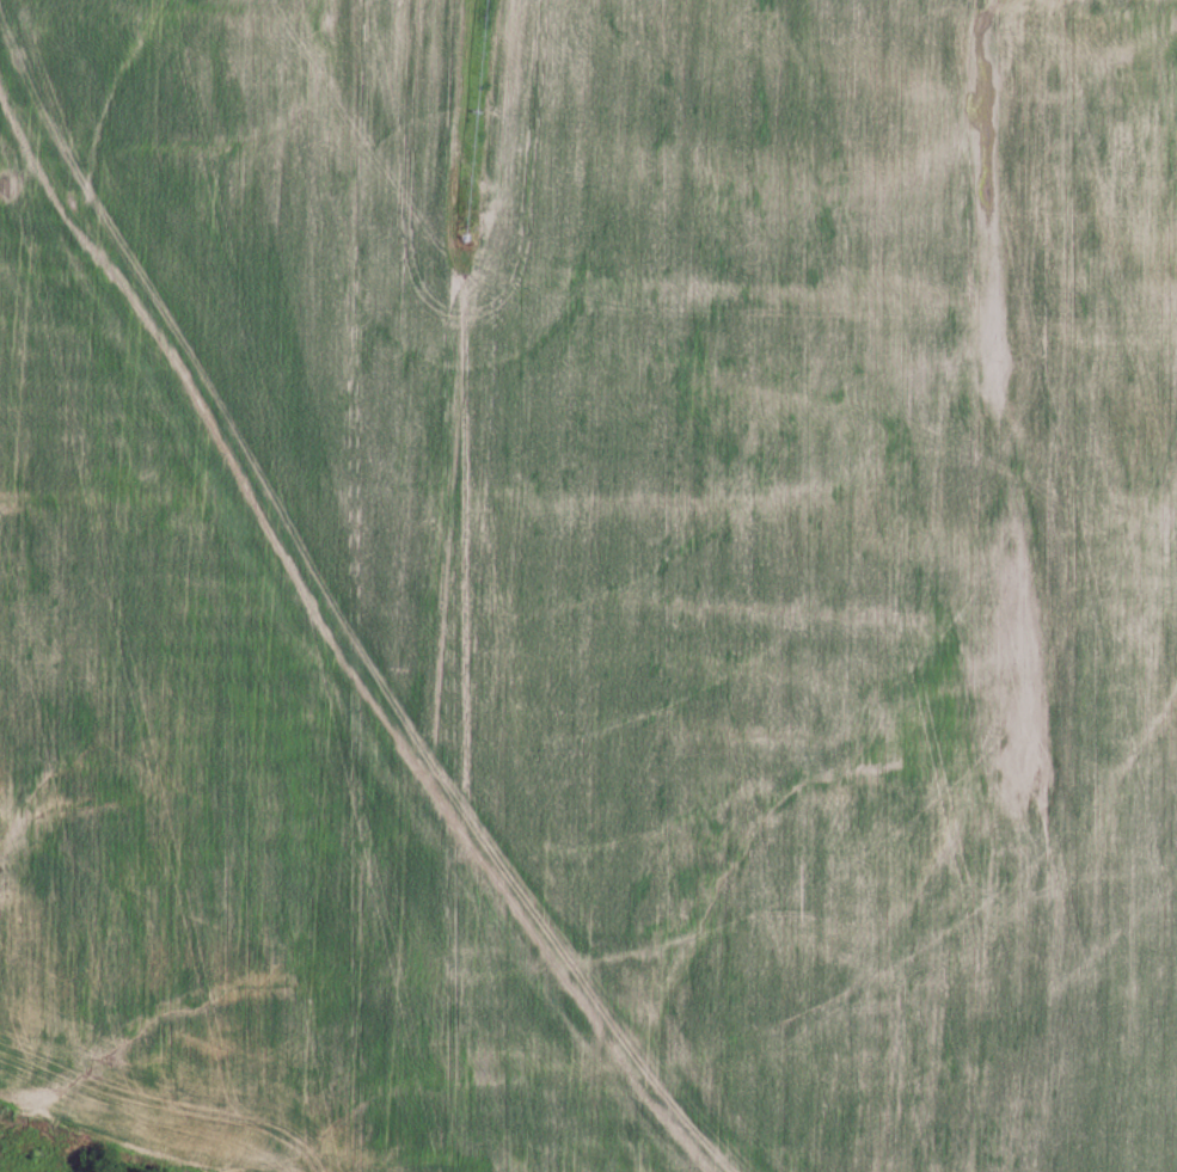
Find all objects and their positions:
road: (323, 642)

